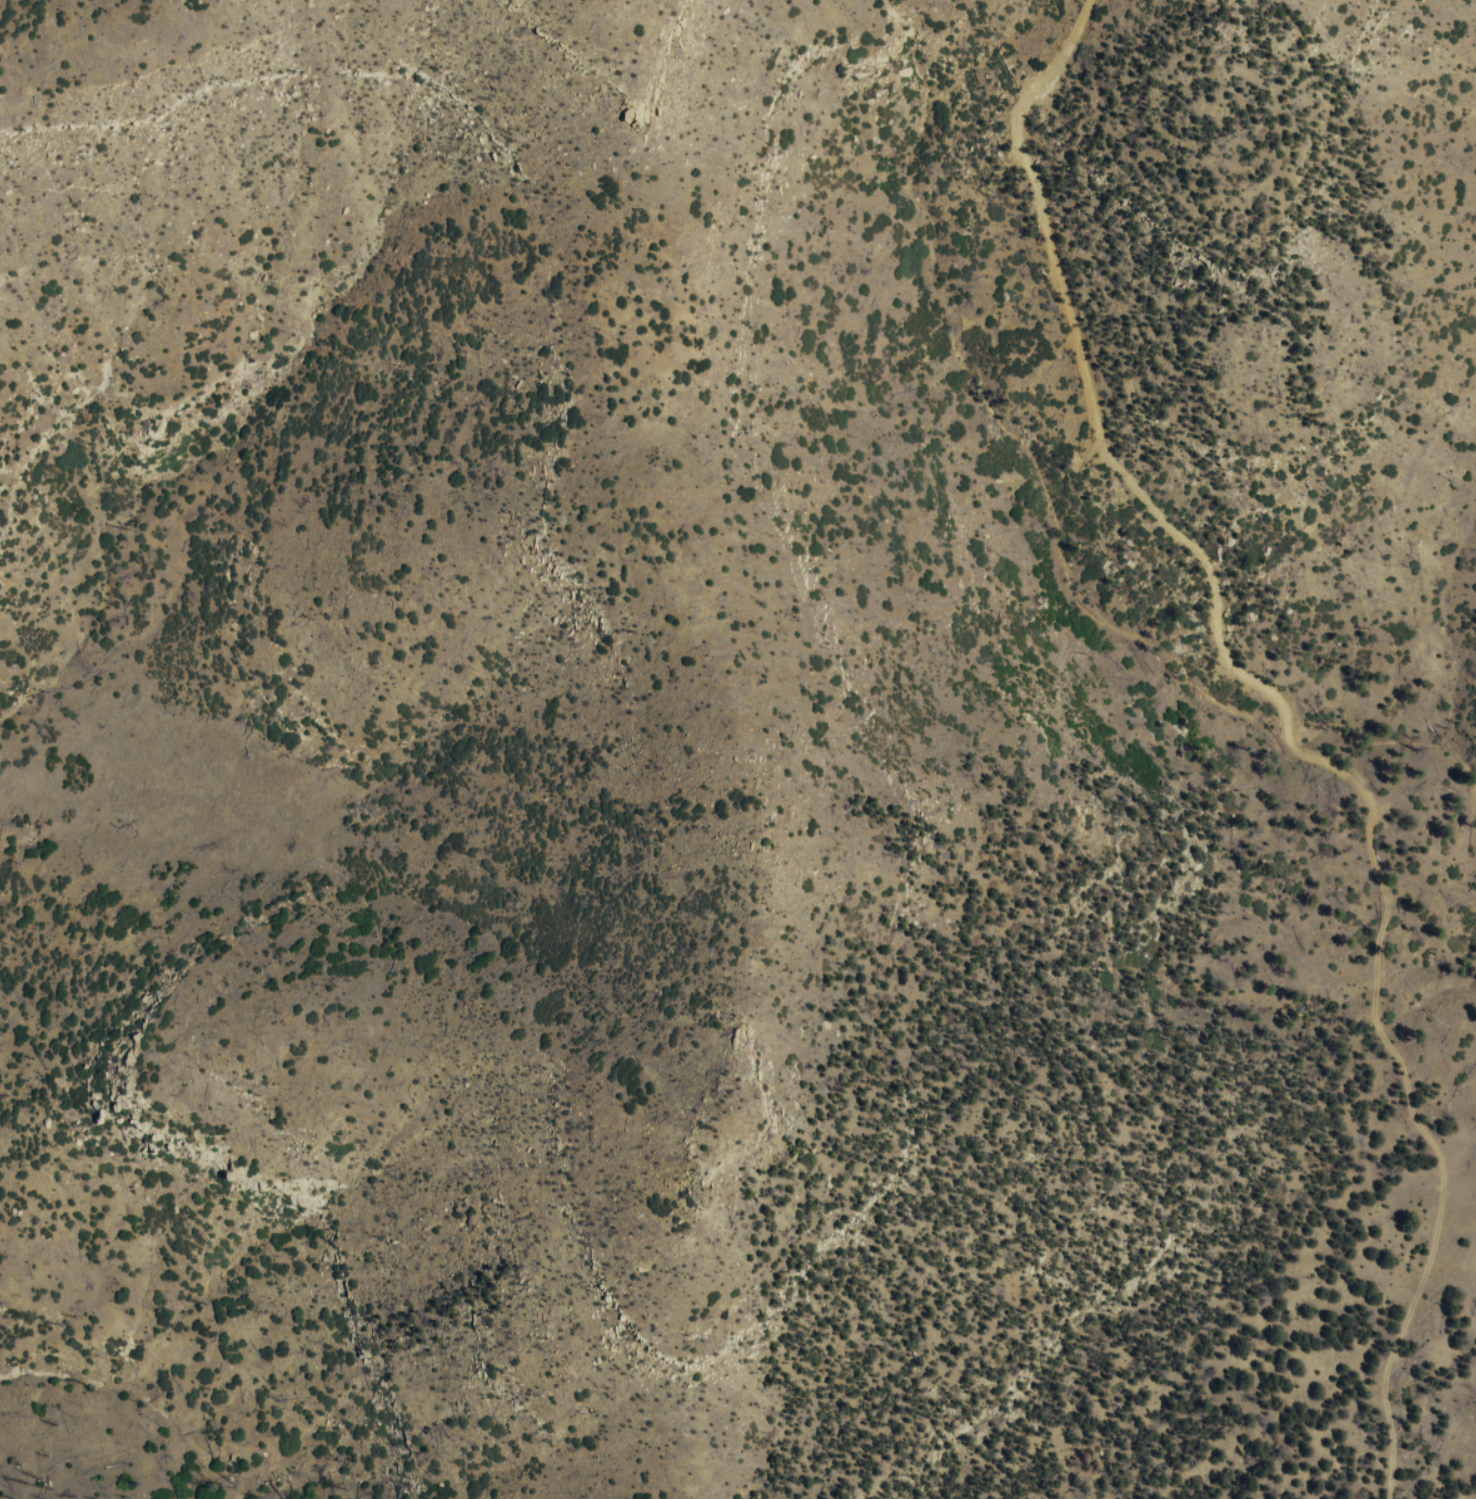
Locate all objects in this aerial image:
road: (1289, 735)

